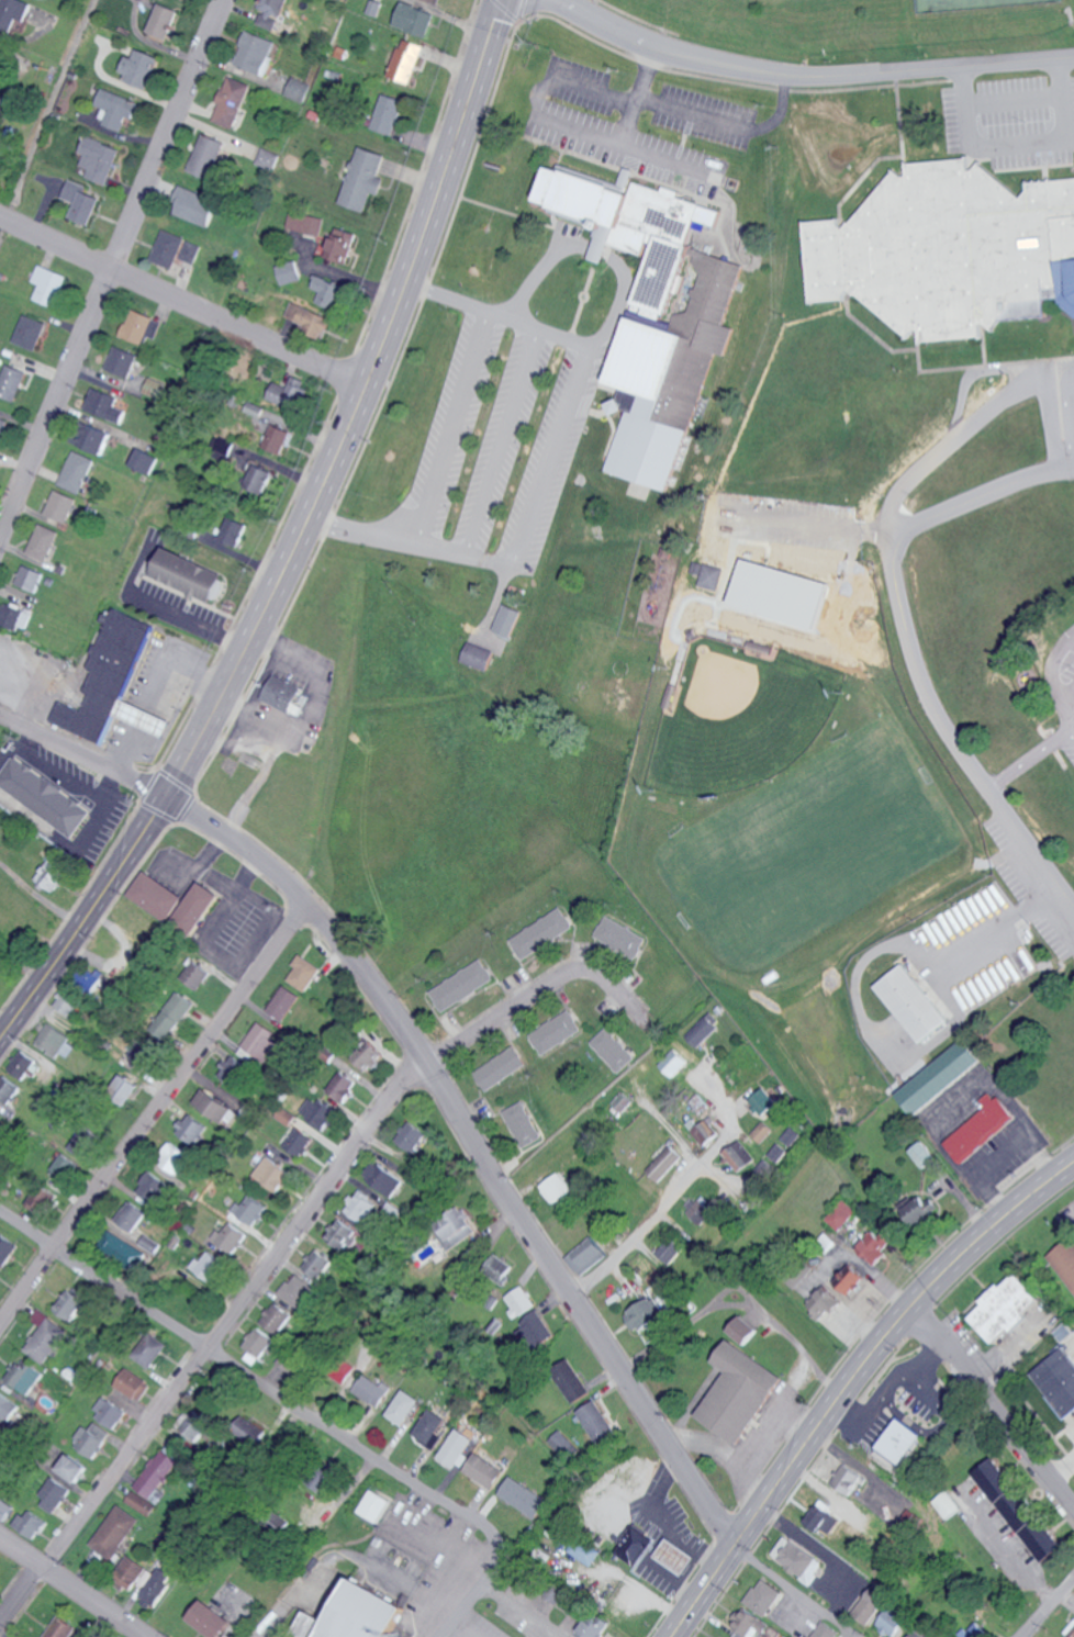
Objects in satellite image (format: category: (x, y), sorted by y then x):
building: (436, 0)
park: (981, 4)
building: (13, 12)
building: (270, 12)
building: (414, 19)
building: (161, 20)
park: (857, 23)
building: (1, 49)
building: (254, 52)
building: (406, 60)
building: (137, 67)
road: (809, 76)
road: (579, 87)
building: (297, 89)
road: (635, 93)
building: (232, 101)
building: (114, 108)
building: (388, 114)
parking lot: (1032, 115)
road: (1016, 145)
building: (206, 156)
building: (98, 158)
building: (267, 159)
building: (363, 178)
building: (80, 201)
building: (195, 206)
building: (305, 223)
building: (338, 246)
building: (167, 248)
building: (190, 251)
building: (948, 251)
road: (112, 268)
building: (289, 272)
road: (537, 274)
building: (48, 284)
building: (328, 291)
road: (181, 307)
building: (307, 318)
building: (141, 326)
building: (30, 332)
road: (544, 332)
building: (122, 361)
road: (1059, 374)
building: (11, 381)
building: (103, 405)
parking lot: (1067, 406)
road: (1061, 411)
road: (980, 421)
building: (2, 426)
road: (448, 428)
building: (276, 438)
building: (97, 440)
road: (499, 441)
road: (1063, 444)
road: (548, 455)
building: (145, 461)
building: (248, 467)
building: (77, 469)
building: (59, 506)
road: (806, 527)
building: (234, 530)
road: (295, 541)
building: (42, 542)
road: (406, 542)
building: (189, 574)
building: (708, 574)
building: (29, 579)
building: (14, 616)
building: (507, 620)
road: (913, 650)
building: (478, 655)
road: (177, 663)
road: (1055, 673)
building: (109, 676)
building: (282, 694)
building: (156, 724)
road: (1030, 753)
road: (124, 755)
building: (43, 797)
building: (156, 896)
building: (197, 908)
road: (997, 924)
building: (541, 933)
building: (620, 937)
building: (303, 973)
building: (192, 975)
building: (87, 979)
building: (462, 986)
building: (66, 1002)
building: (282, 1003)
building: (914, 1003)
building: (170, 1016)
building: (701, 1030)
building: (557, 1033)
building: (259, 1041)
building: (56, 1043)
building: (613, 1050)
building: (143, 1053)
building: (370, 1055)
building: (672, 1063)
building: (25, 1067)
building: (501, 1068)
building: (233, 1069)
building: (940, 1077)
building: (343, 1086)
building: (8, 1089)
building: (122, 1089)
building: (620, 1102)
building: (762, 1103)
building: (215, 1107)
road: (148, 1114)
building: (286, 1117)
building: (522, 1124)
building: (982, 1128)
building: (192, 1129)
building: (701, 1130)
building: (760, 1132)
building: (65, 1133)
building: (413, 1136)
building: (788, 1136)
road: (465, 1141)
building: (82, 1142)
building: (300, 1143)
building: (774, 1152)
building: (926, 1155)
building: (172, 1157)
building: (737, 1157)
building: (663, 1164)
building: (65, 1165)
building: (764, 1169)
building: (272, 1173)
building: (384, 1179)
building: (153, 1185)
building: (556, 1189)
building: (43, 1198)
building: (361, 1206)
building: (250, 1208)
building: (924, 1208)
building: (700, 1212)
building: (132, 1214)
building: (843, 1215)
building: (456, 1224)
road: (646, 1224)
building: (342, 1234)
building: (230, 1236)
building: (152, 1243)
building: (879, 1243)
building: (7, 1246)
building: (125, 1249)
building: (669, 1249)
building: (585, 1255)
building: (1065, 1259)
building: (316, 1262)
road: (267, 1264)
building: (209, 1265)
building: (496, 1267)
building: (650, 1274)
building: (853, 1278)
building: (298, 1290)
building: (518, 1300)
building: (828, 1300)
road: (737, 1302)
building: (71, 1303)
building: (1009, 1307)
building: (275, 1318)
building: (648, 1320)
building: (535, 1328)
building: (747, 1328)
building: (370, 1332)
building: (46, 1339)
building: (256, 1342)
building: (150, 1349)
building: (336, 1368)
building: (24, 1376)
building: (1058, 1379)
building: (570, 1380)
road: (851, 1380)
building: (132, 1383)
building: (368, 1390)
building: (742, 1391)
road: (995, 1401)
building: (8, 1408)
road: (295, 1408)
building: (401, 1408)
building: (108, 1411)
building: (598, 1421)
building: (194, 1424)
building: (425, 1428)
building: (246, 1433)
building: (90, 1438)
road: (771, 1440)
building: (903, 1440)
building: (457, 1444)
road: (725, 1451)
road: (1062, 1462)
building: (72, 1467)
building: (485, 1469)
building: (155, 1473)
building: (849, 1478)
building: (324, 1481)
building: (53, 1493)
building: (524, 1496)
building: (376, 1505)
building: (4, 1507)
building: (1019, 1510)
building: (825, 1518)
building: (908, 1522)
building: (30, 1523)
building: (112, 1533)
parking lot: (667, 1534)
road: (443, 1541)
building: (637, 1545)
building: (585, 1549)
road: (1010, 1550)
building: (678, 1554)
building: (801, 1558)
building: (128, 1571)
building: (145, 1578)
building: (155, 1586)
road: (69, 1591)
building: (765, 1596)
road: (1047, 1605)
building: (871, 1606)
building: (357, 1614)
building: (210, 1619)
building: (894, 1621)
road: (267, 1623)
building: (749, 1623)
building: (594, 1626)
building: (59, 1628)
building: (828, 1630)
building: (976, 1630)
building: (918, 1634)
road: (853, 1635)

